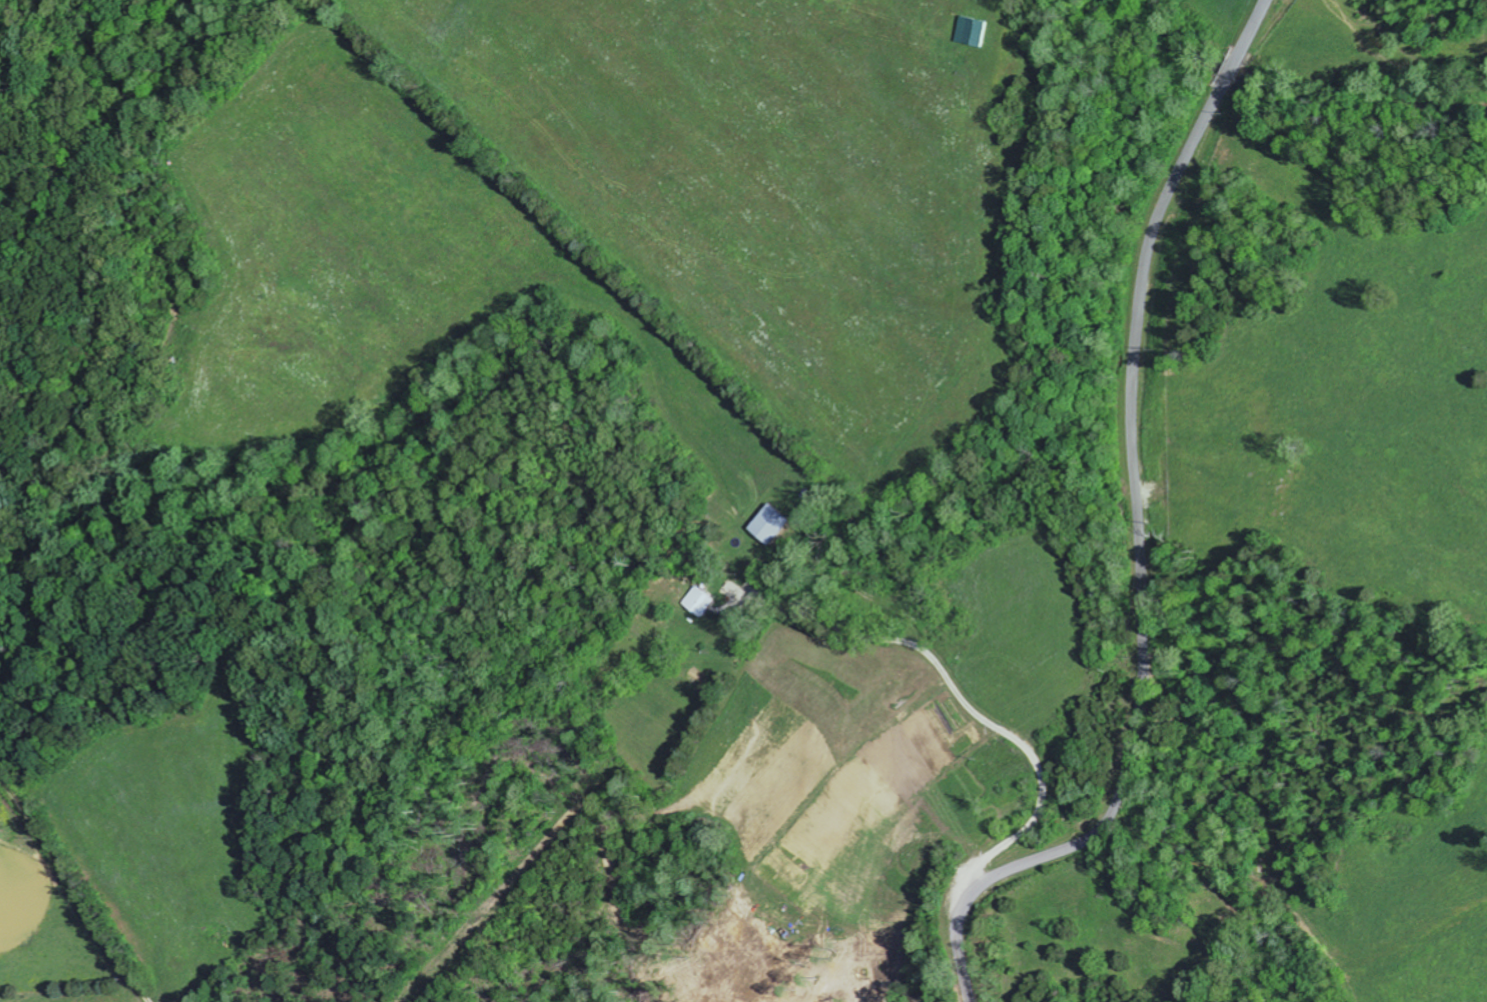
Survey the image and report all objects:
building: (974, 32)
building: (774, 524)
road: (1137, 533)
building: (700, 601)
road: (998, 698)
road: (71, 891)

